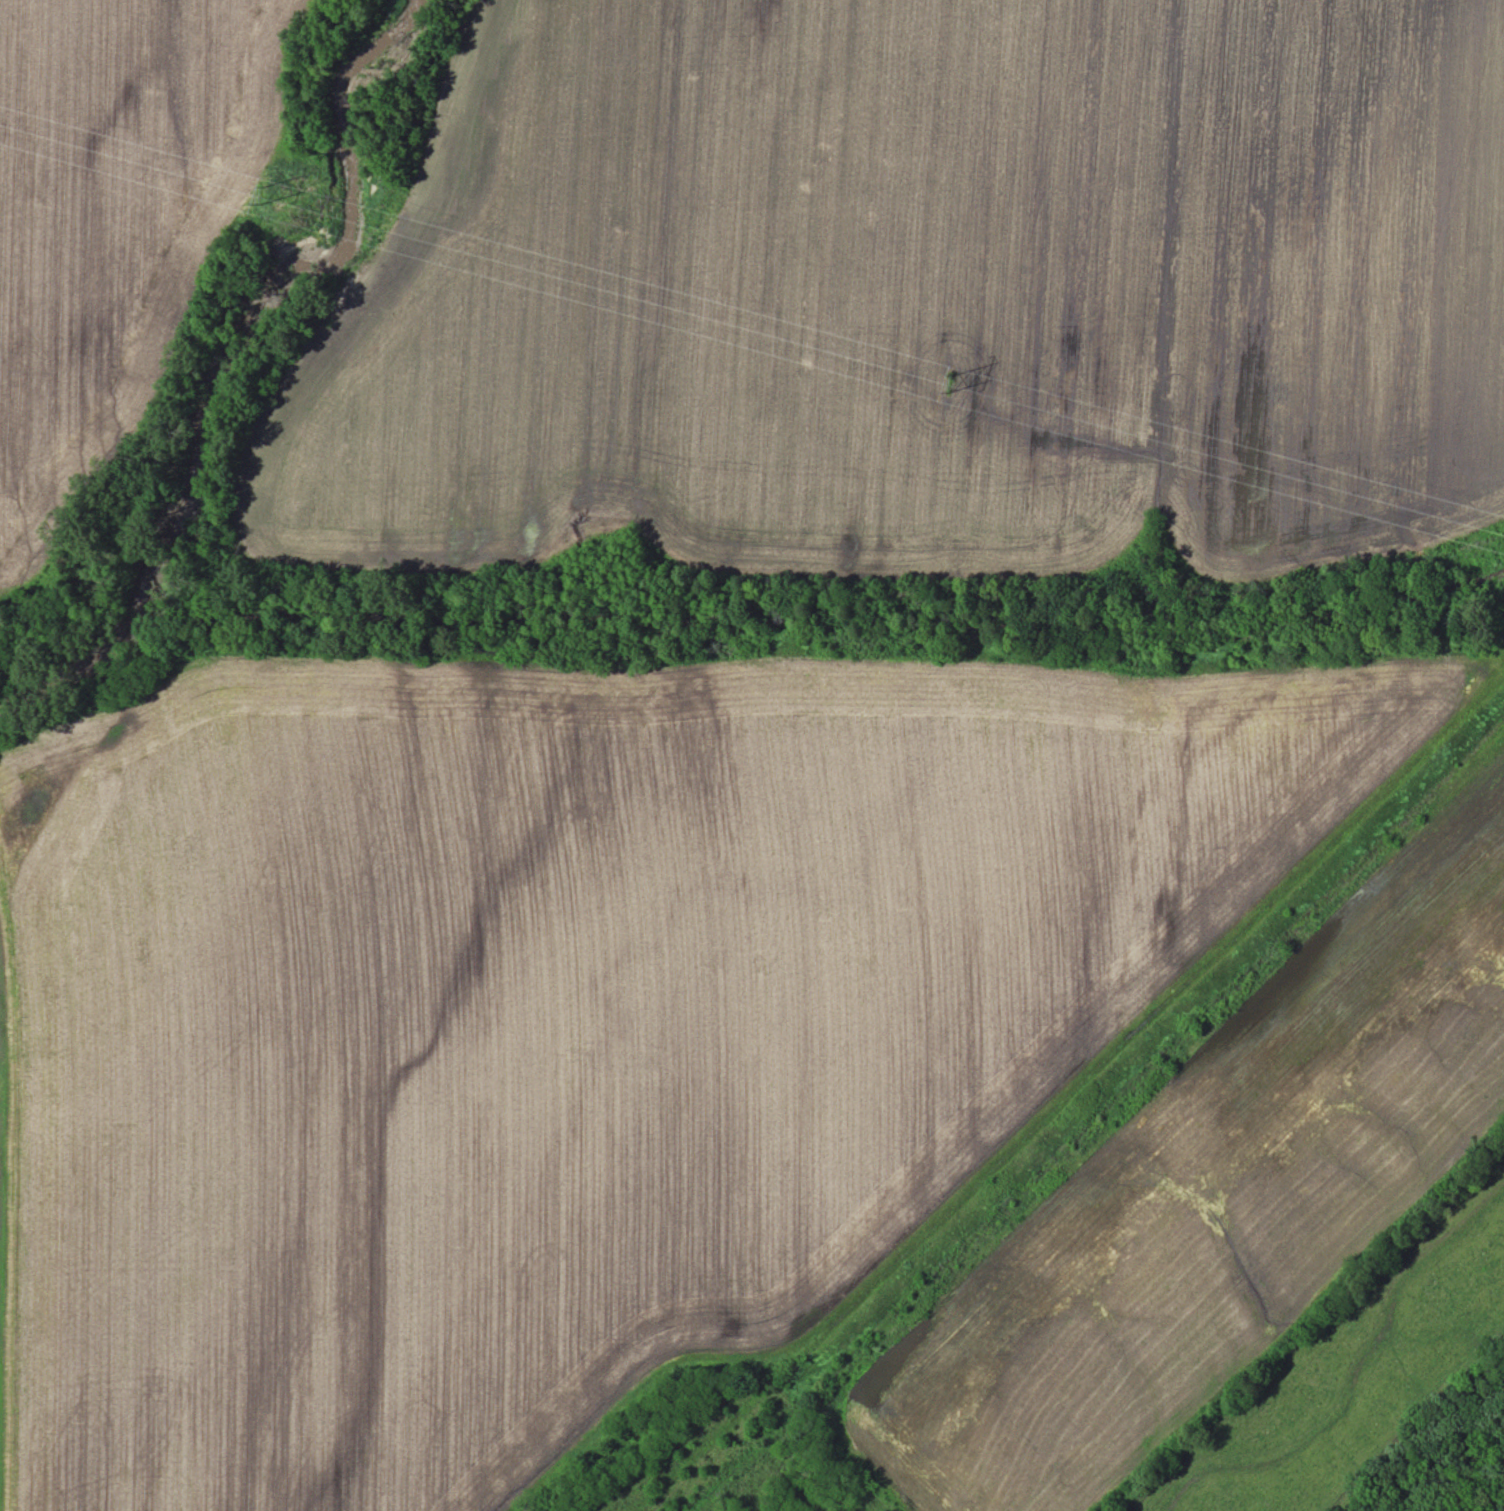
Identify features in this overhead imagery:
power tower: (276, 194)
river: (225, 344)
power tower: (991, 389)
road: (14, 1191)

